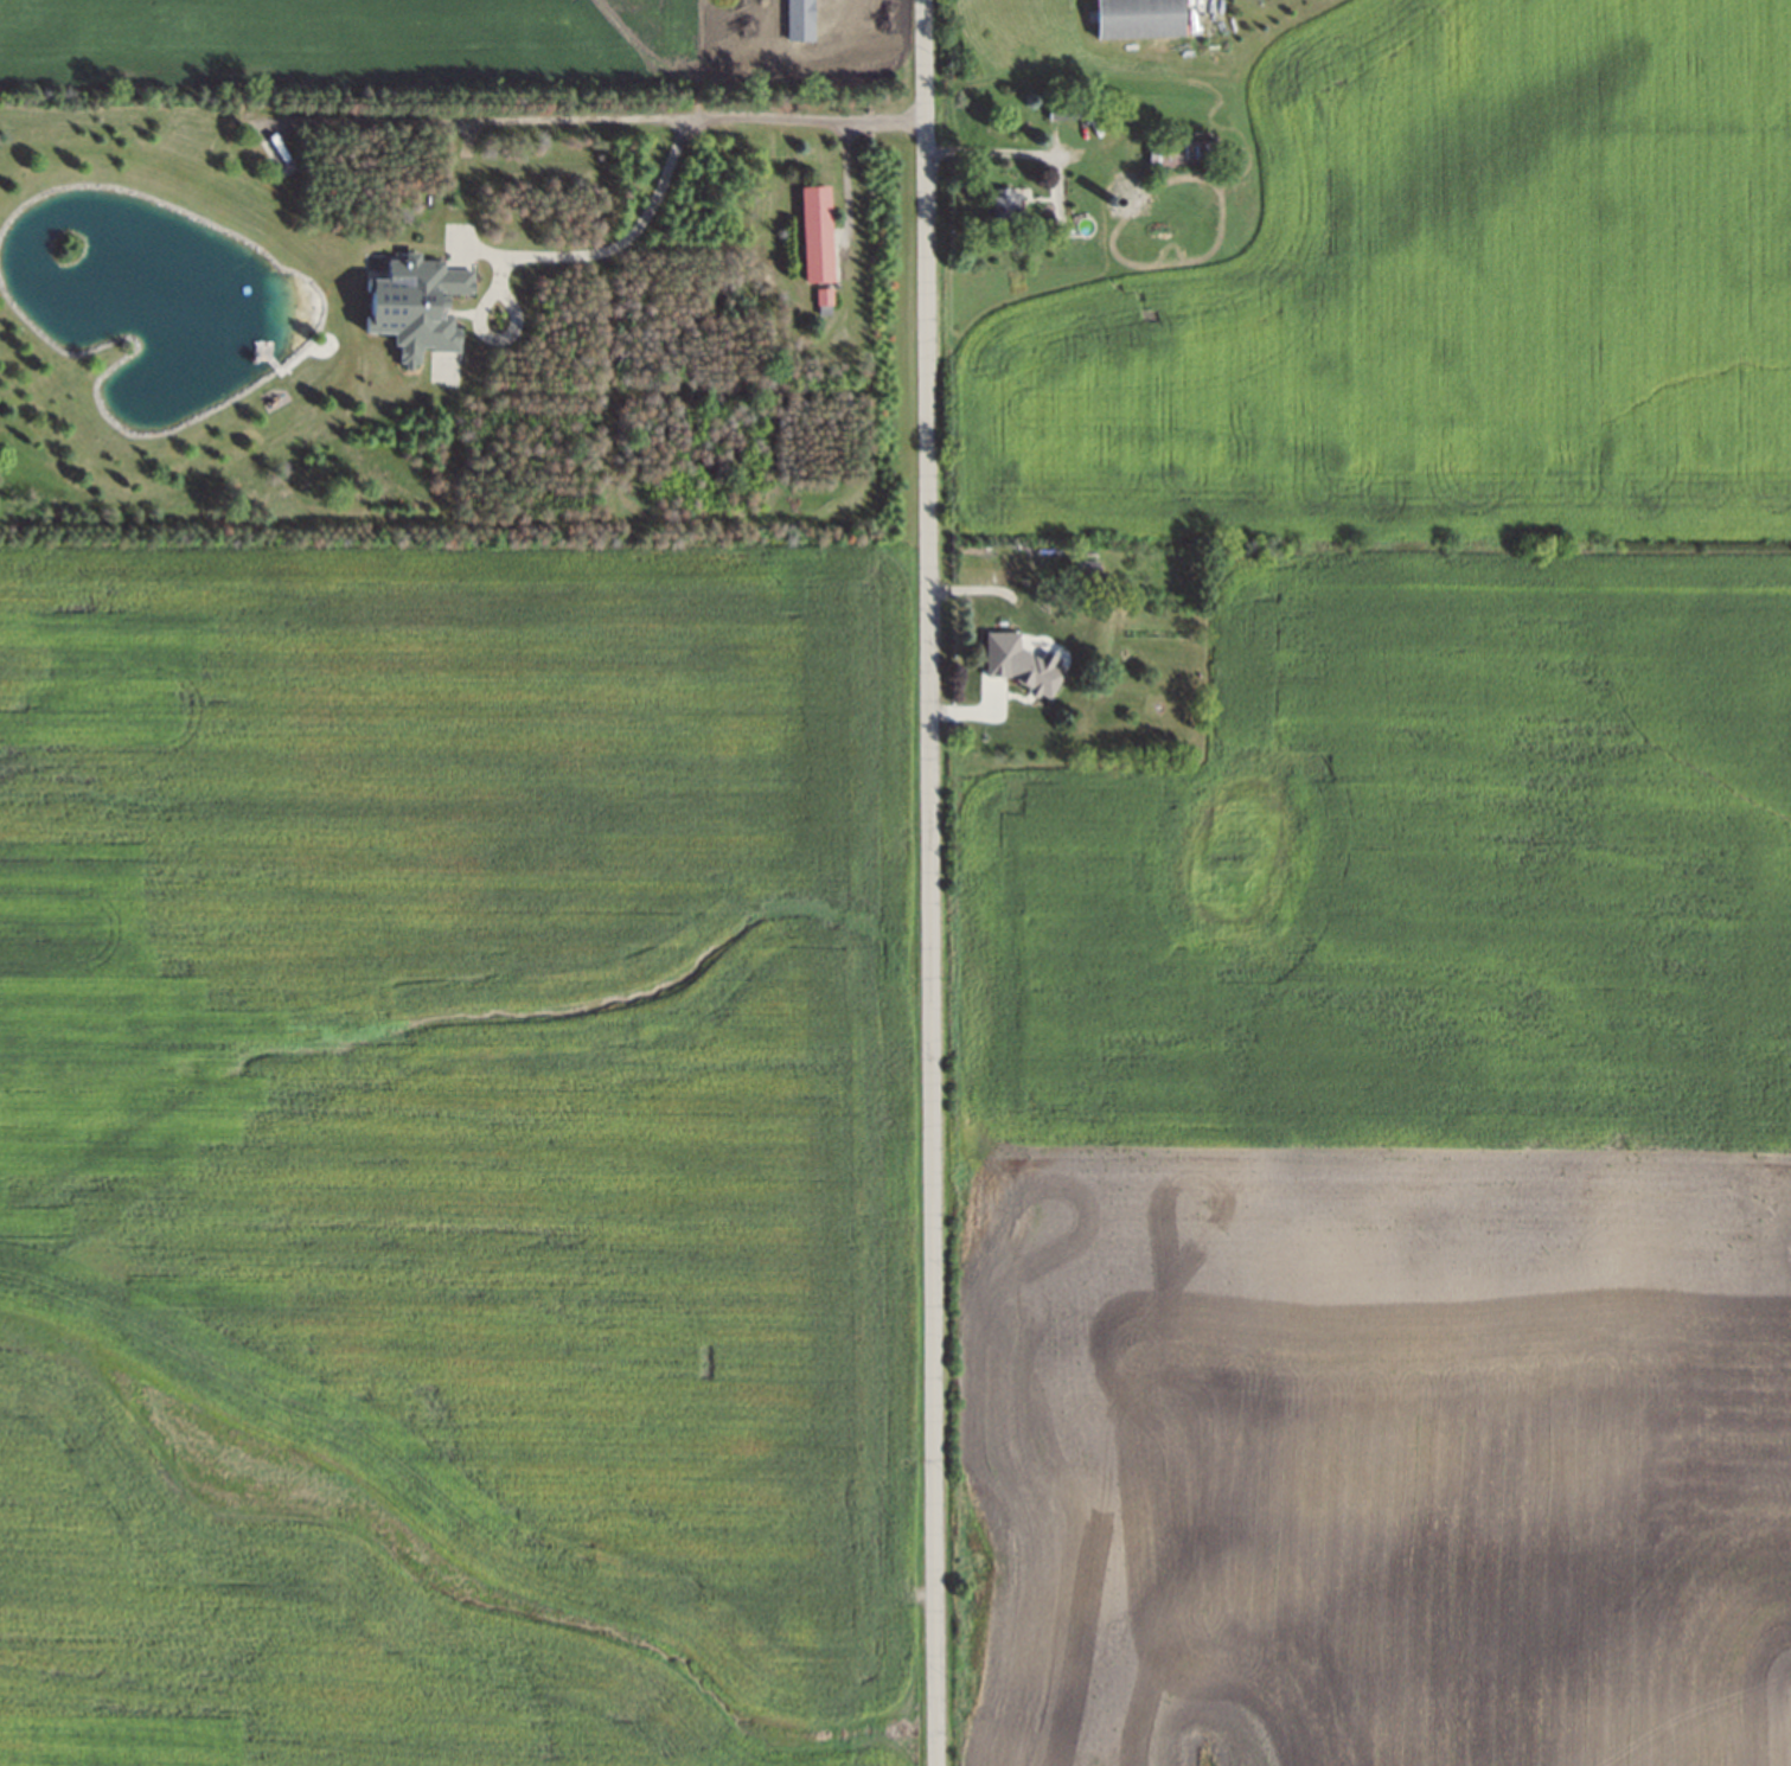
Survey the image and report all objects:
building: (1131, 14)
building: (1063, 107)
road: (590, 120)
road: (1000, 151)
building: (1177, 152)
road: (846, 184)
building: (1112, 199)
building: (997, 203)
building: (1044, 219)
building: (814, 230)
road: (556, 258)
building: (821, 294)
crop: (1438, 299)
building: (411, 302)
building: (1005, 559)
building: (1082, 564)
building: (986, 626)
building: (1019, 663)
building: (1152, 704)
crop: (1412, 868)
road: (926, 882)
crop: (1380, 1460)

